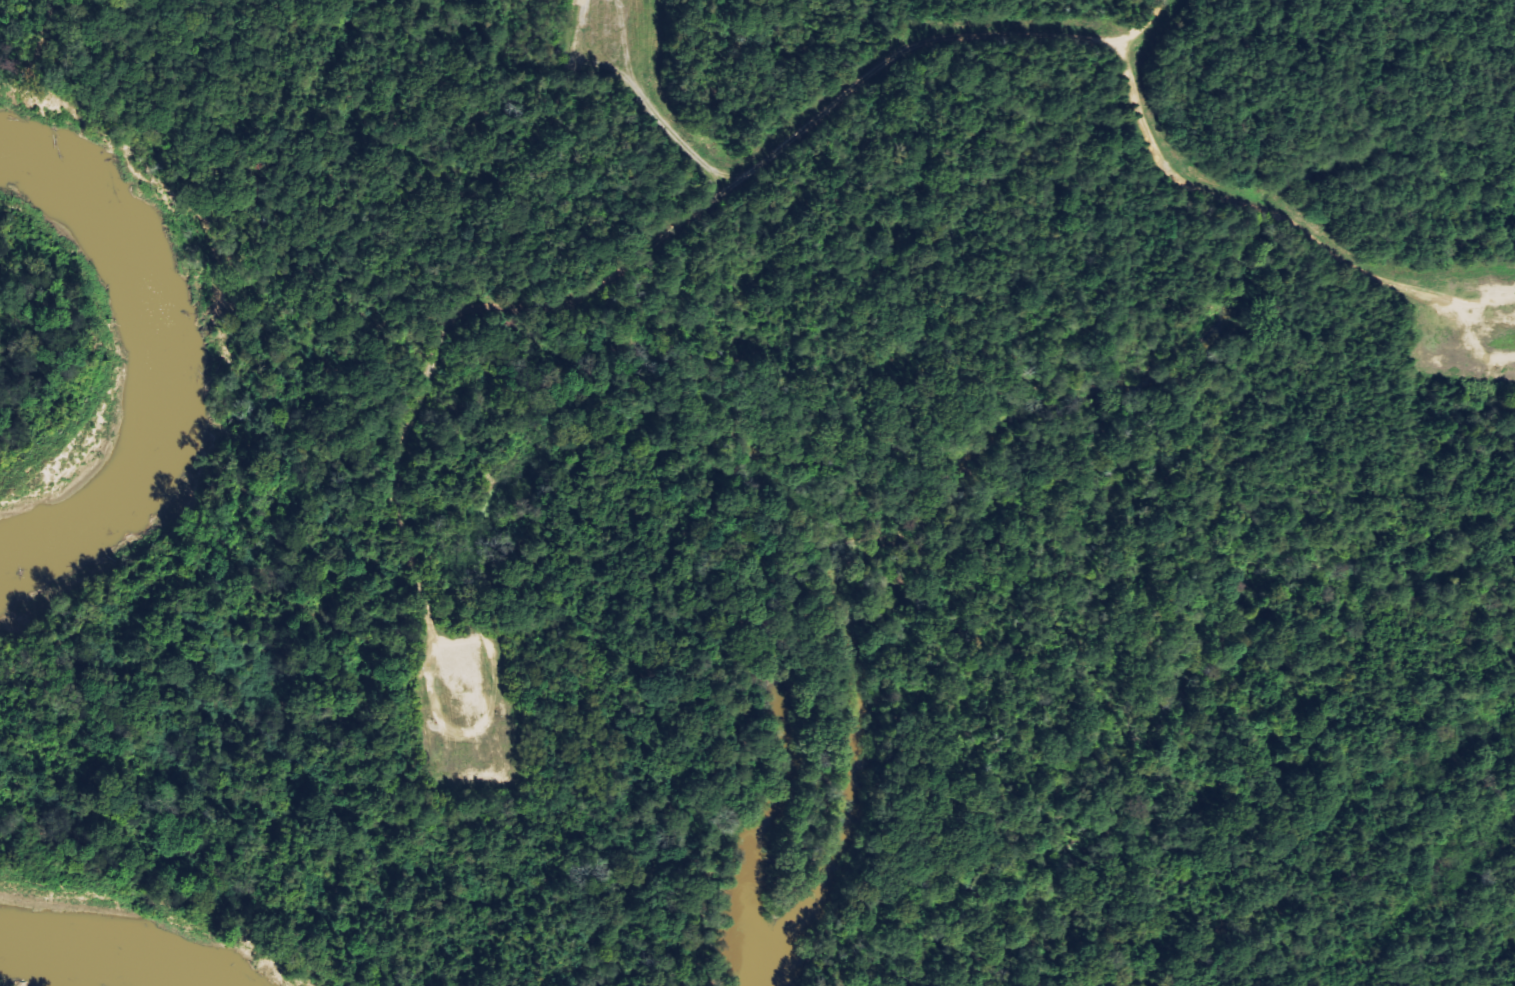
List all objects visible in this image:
road: (627, 265)
river: (147, 348)
river: (99, 938)

